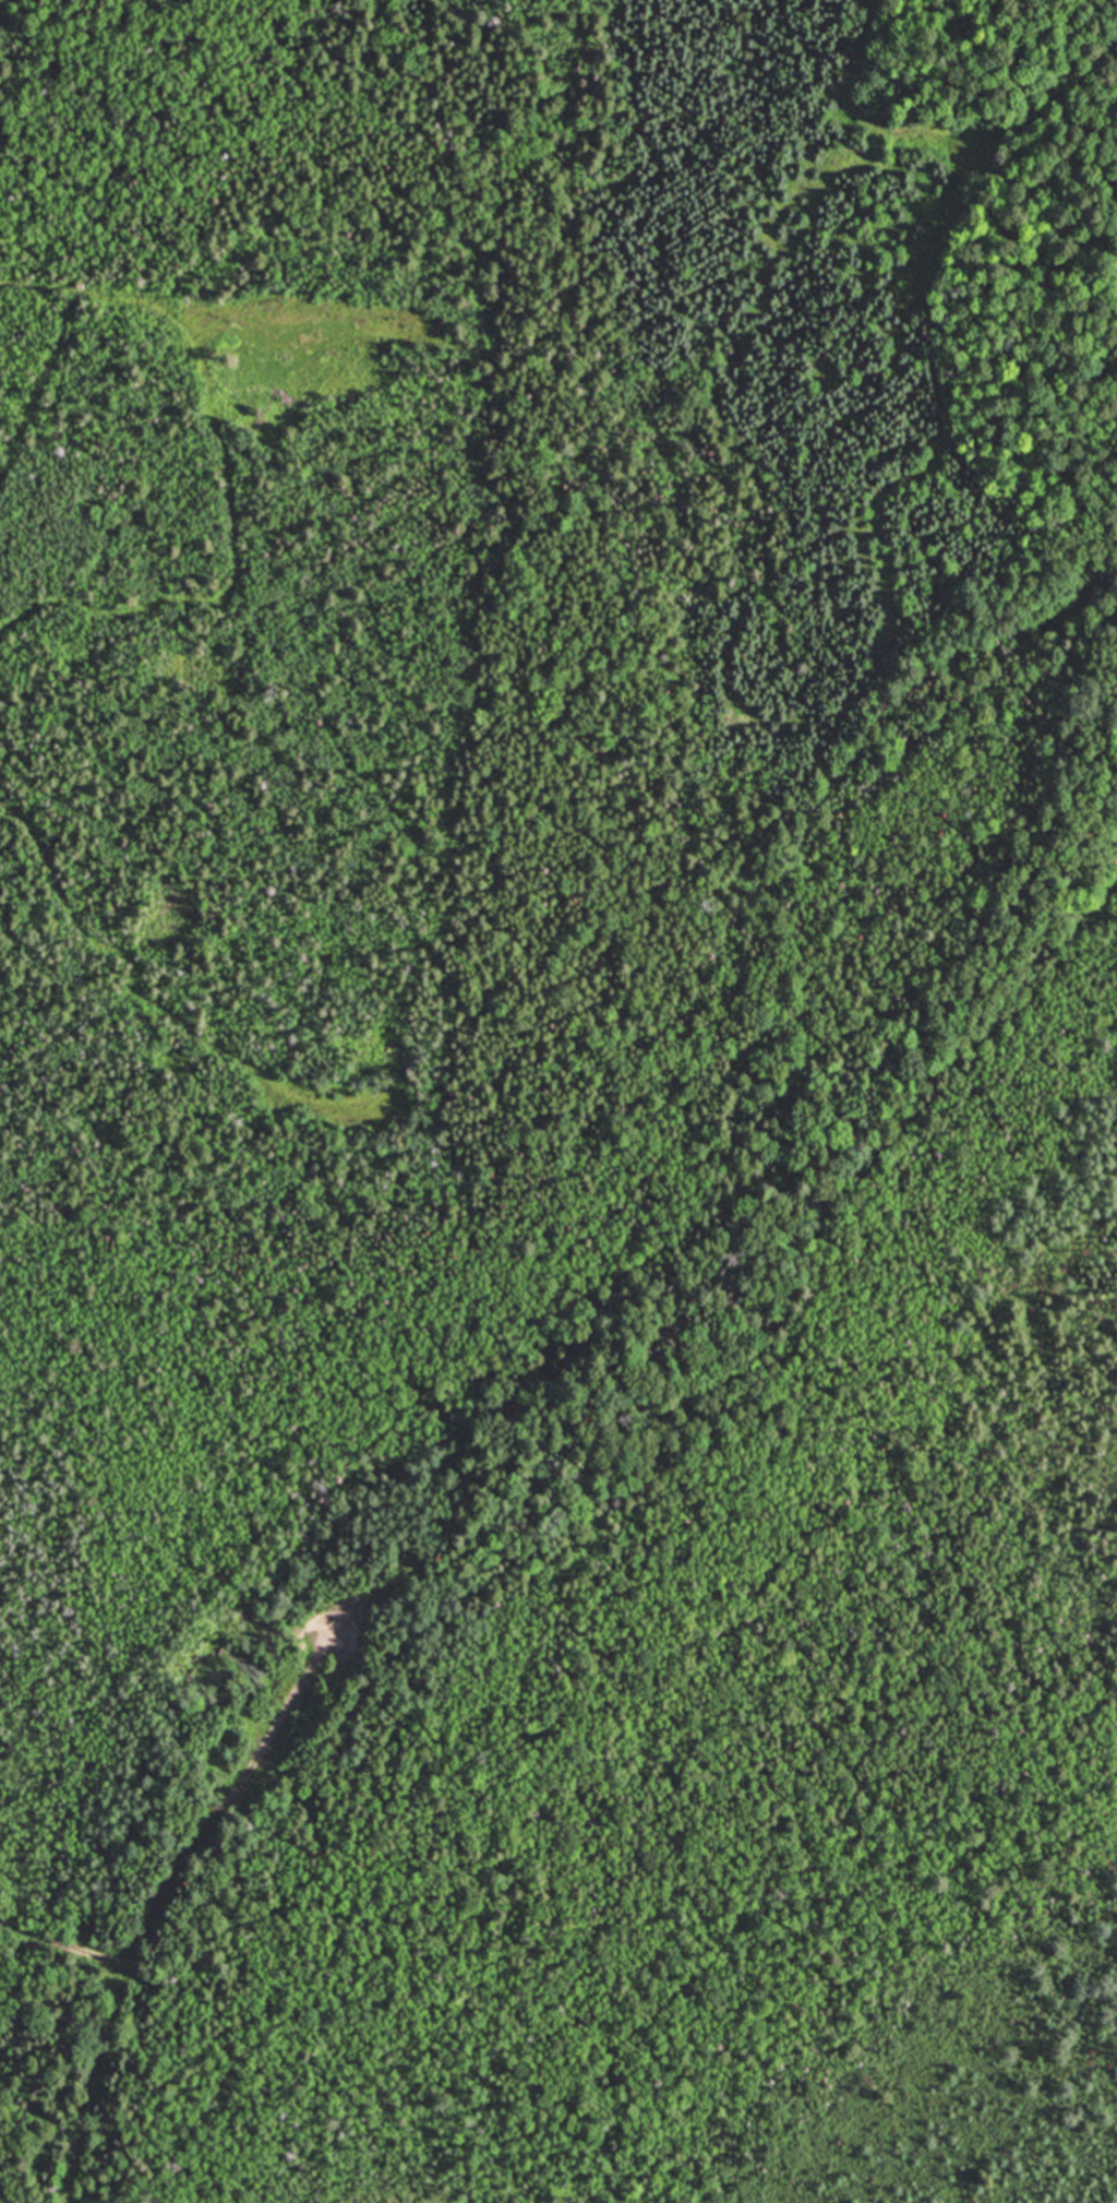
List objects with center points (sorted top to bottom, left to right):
road: (72, 1944)
road: (91, 2100)

